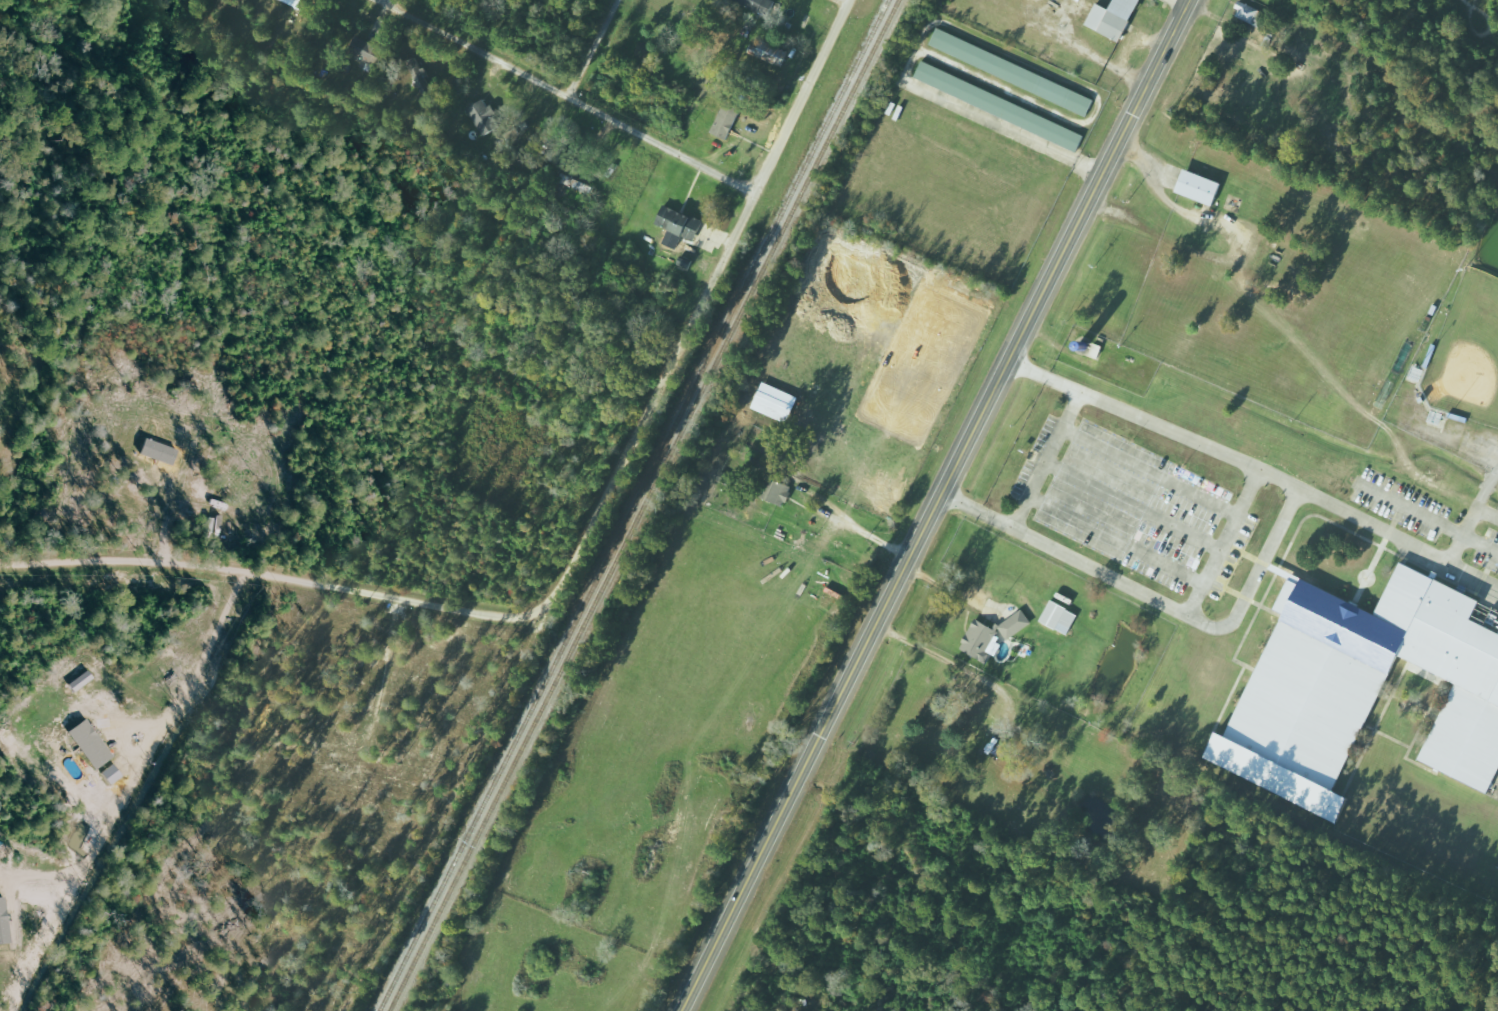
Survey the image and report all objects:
road: (847, 1)
road: (384, 4)
building: (760, 5)
road: (1181, 6)
building: (1250, 14)
building: (1114, 18)
building: (363, 48)
road: (589, 48)
building: (769, 52)
building: (417, 71)
building: (1013, 72)
road: (561, 95)
building: (999, 106)
building: (483, 117)
building: (727, 121)
building: (1200, 188)
building: (680, 223)
road: (696, 310)
park: (1466, 354)
building: (159, 451)
building: (778, 492)
railway: (634, 505)
railway: (645, 505)
road: (943, 505)
parking lot: (1401, 507)
parking lot: (1133, 510)
parking lot: (1488, 554)
road: (267, 575)
building: (1059, 617)
building: (1015, 624)
building: (980, 640)
road: (219, 642)
building: (1357, 691)
road: (146, 726)
building: (89, 744)
road: (112, 820)
building: (3, 924)

